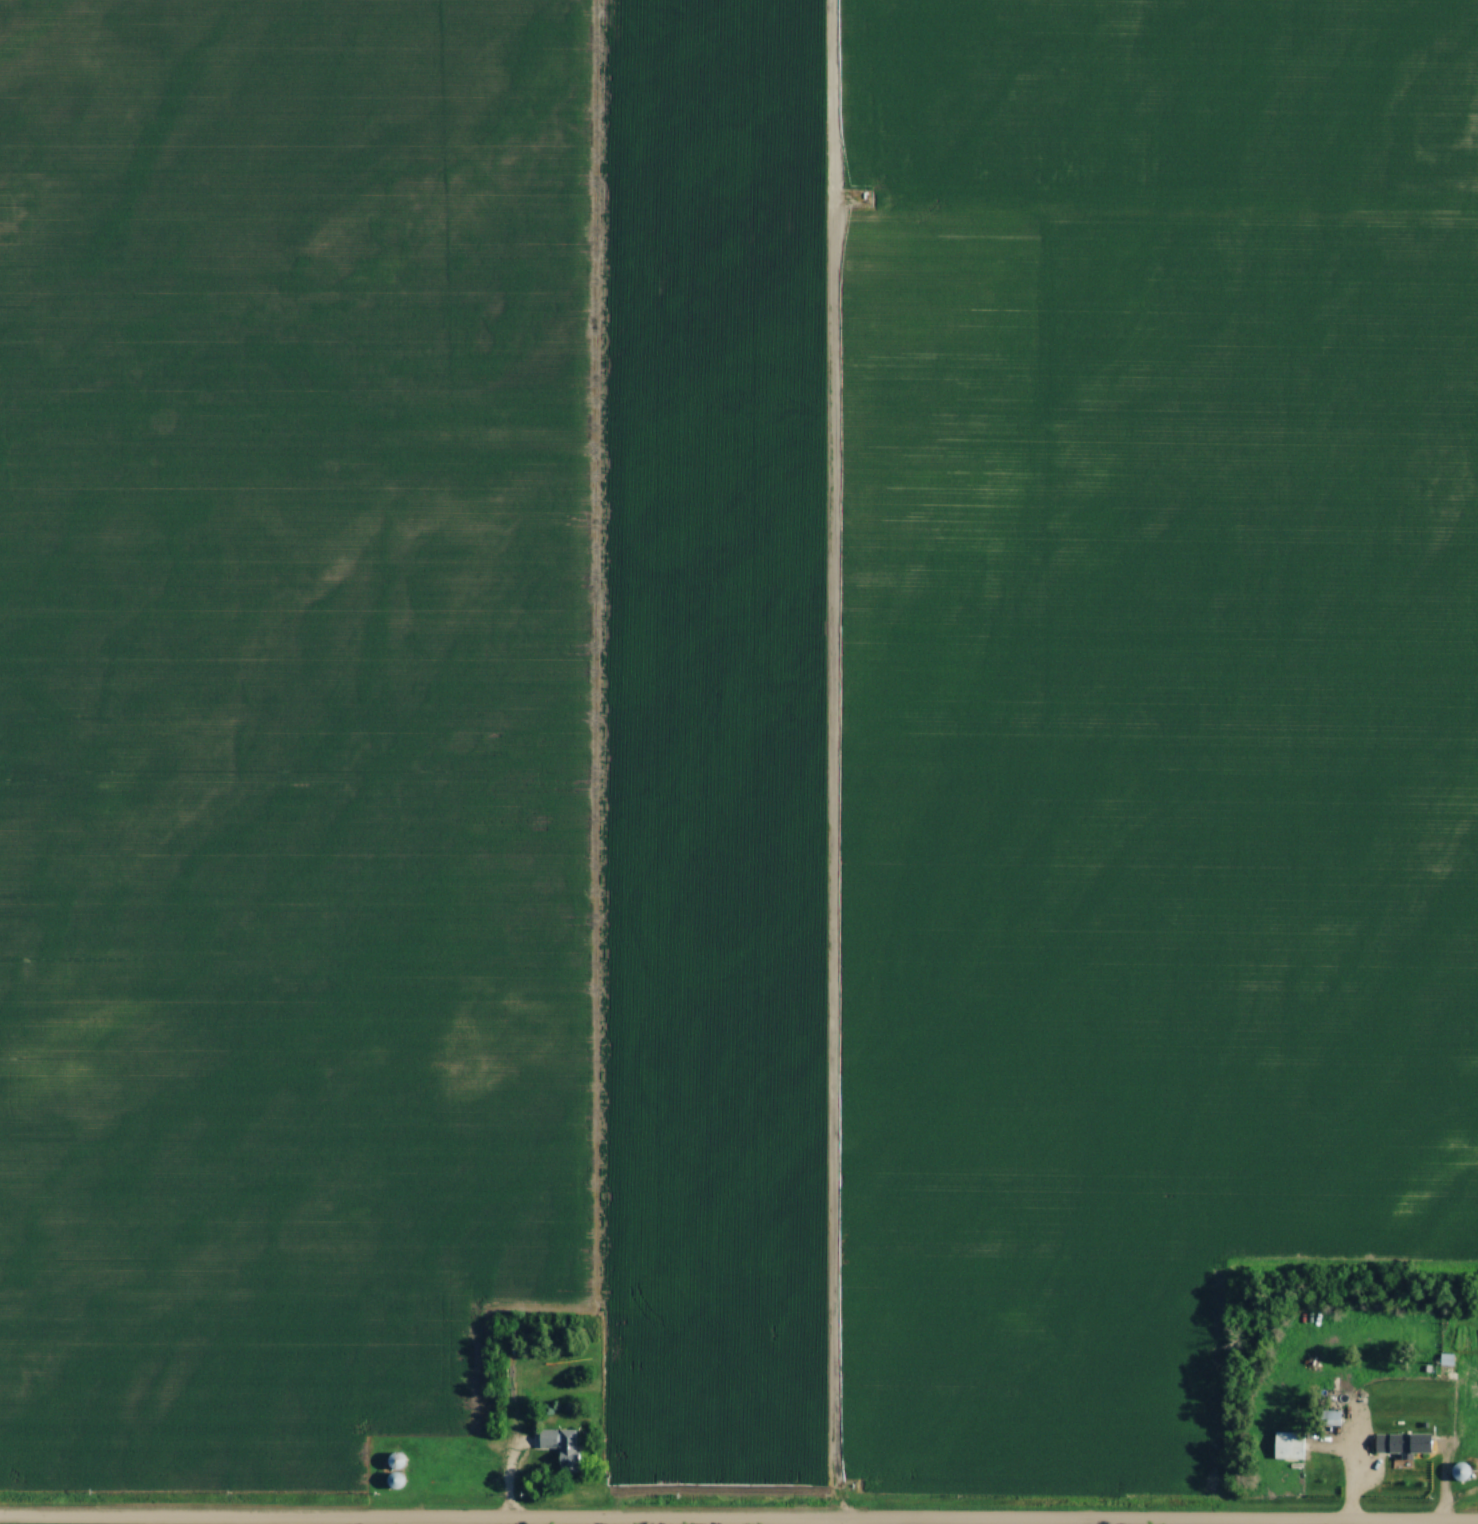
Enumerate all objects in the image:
building: (551, 1376)
building: (1334, 1420)
building: (1405, 1445)
building: (1290, 1446)
building: (561, 1447)
building: (397, 1462)
road: (1453, 1504)
road: (265, 1523)

